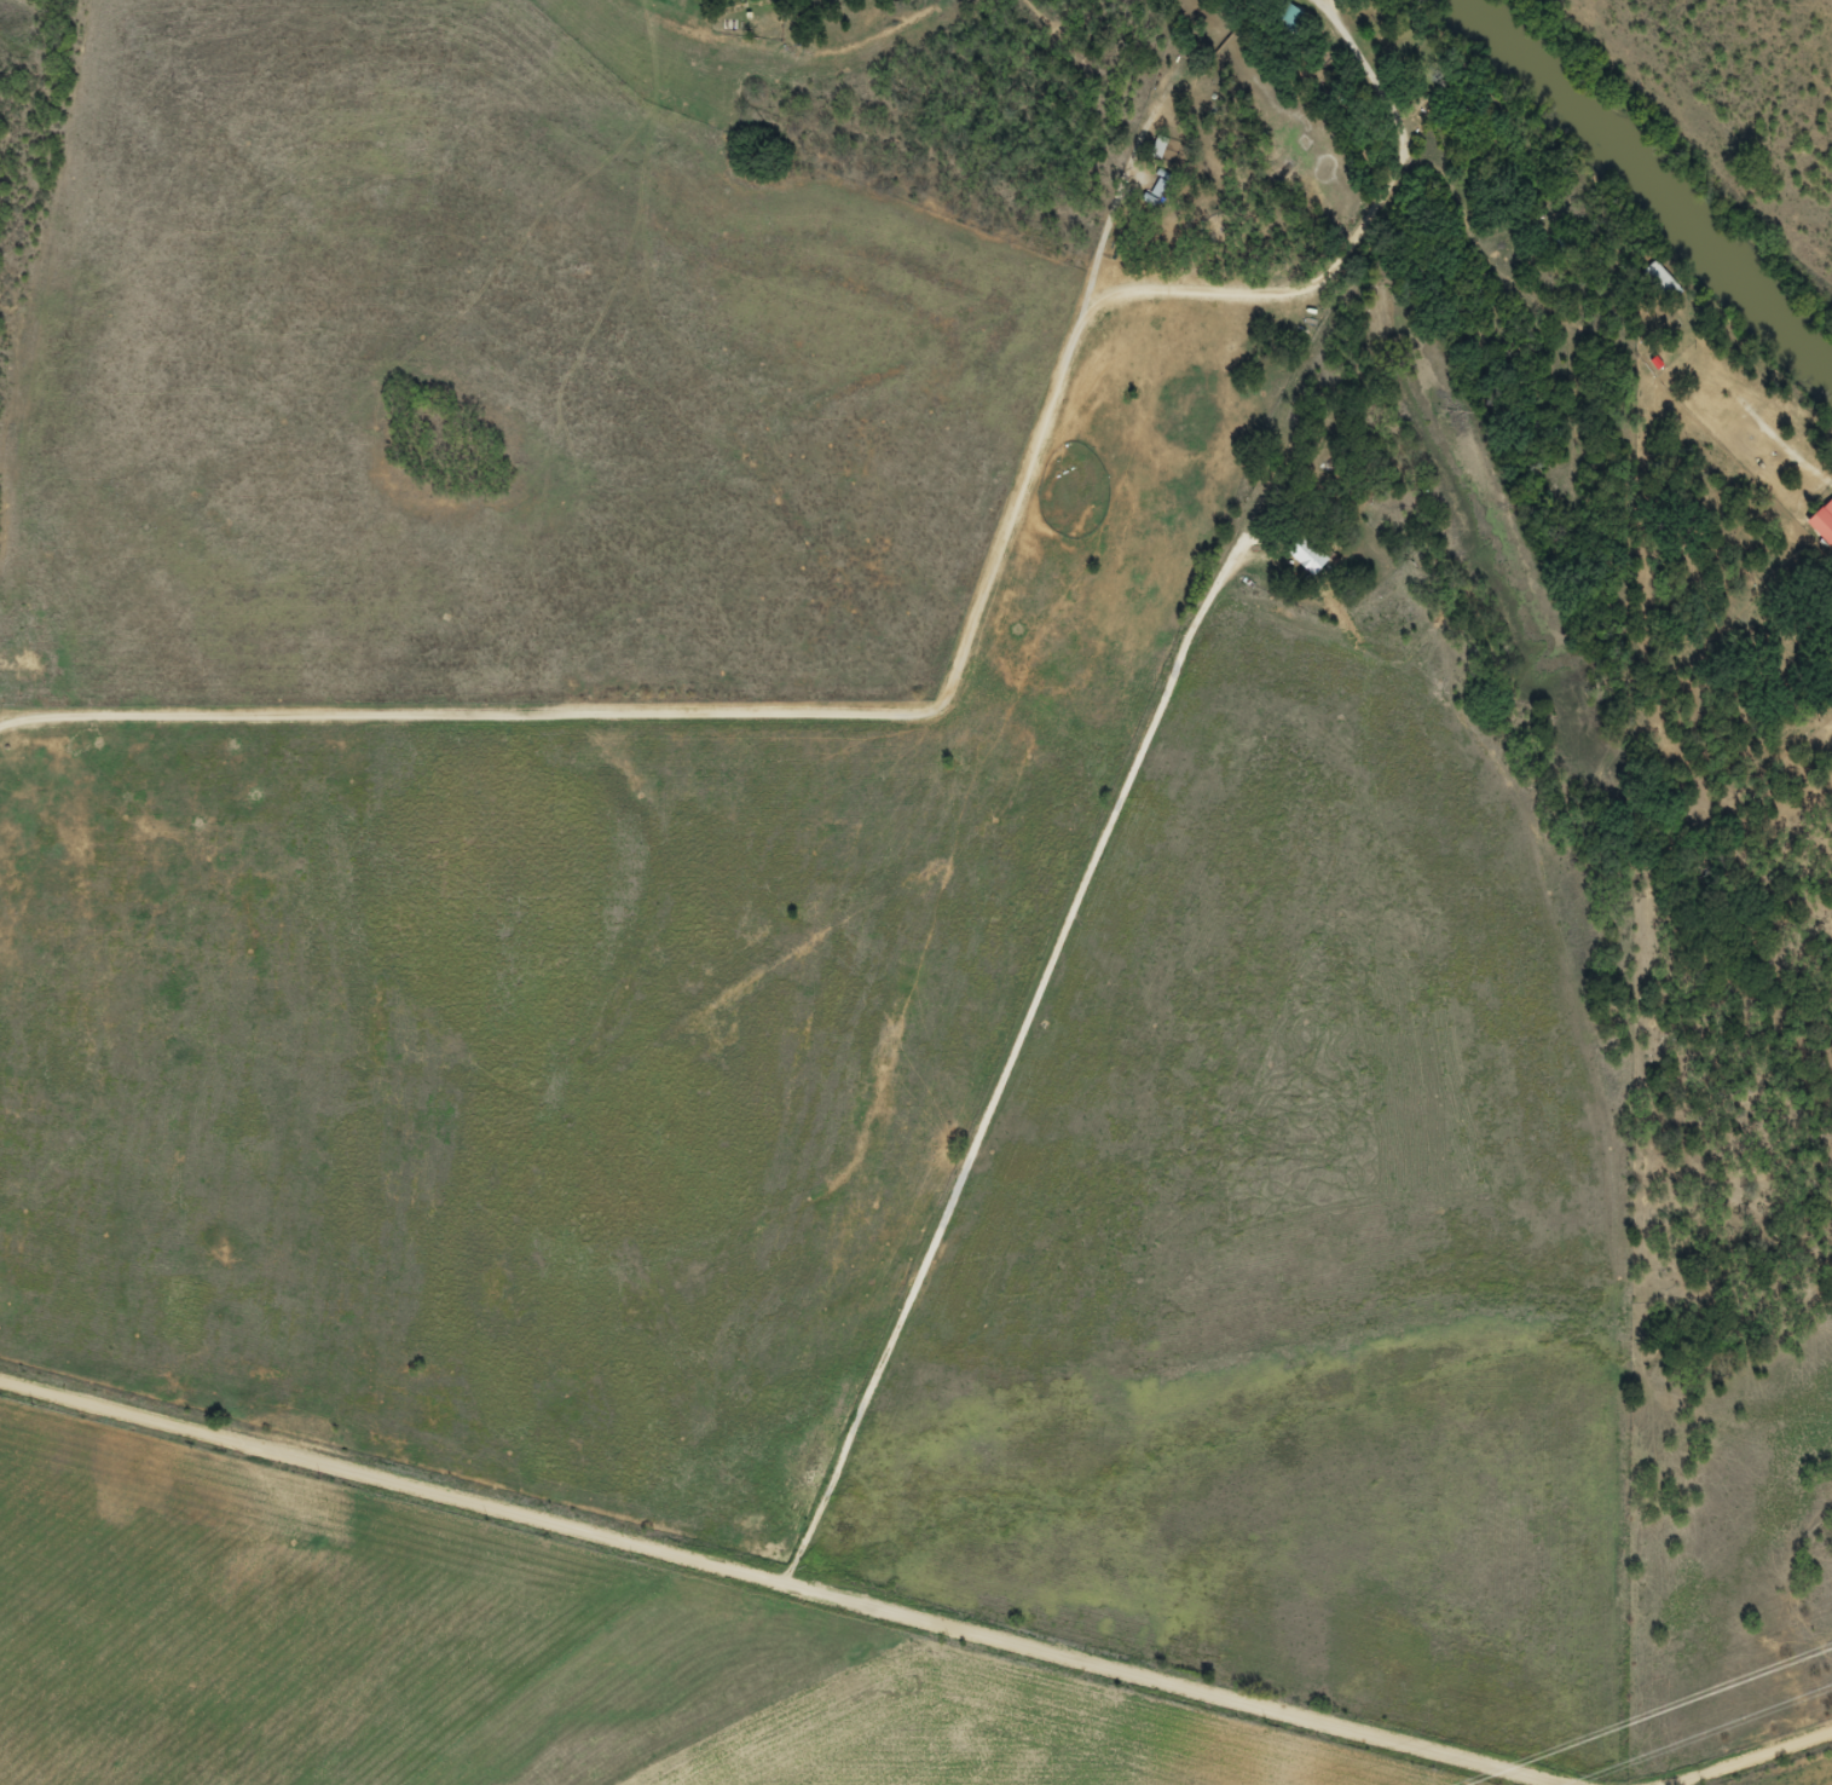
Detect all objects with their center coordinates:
road: (1307, 5)
building: (1291, 22)
building: (1660, 283)
building: (1824, 524)
building: (1312, 558)
road: (699, 1599)
road: (1793, 1773)

